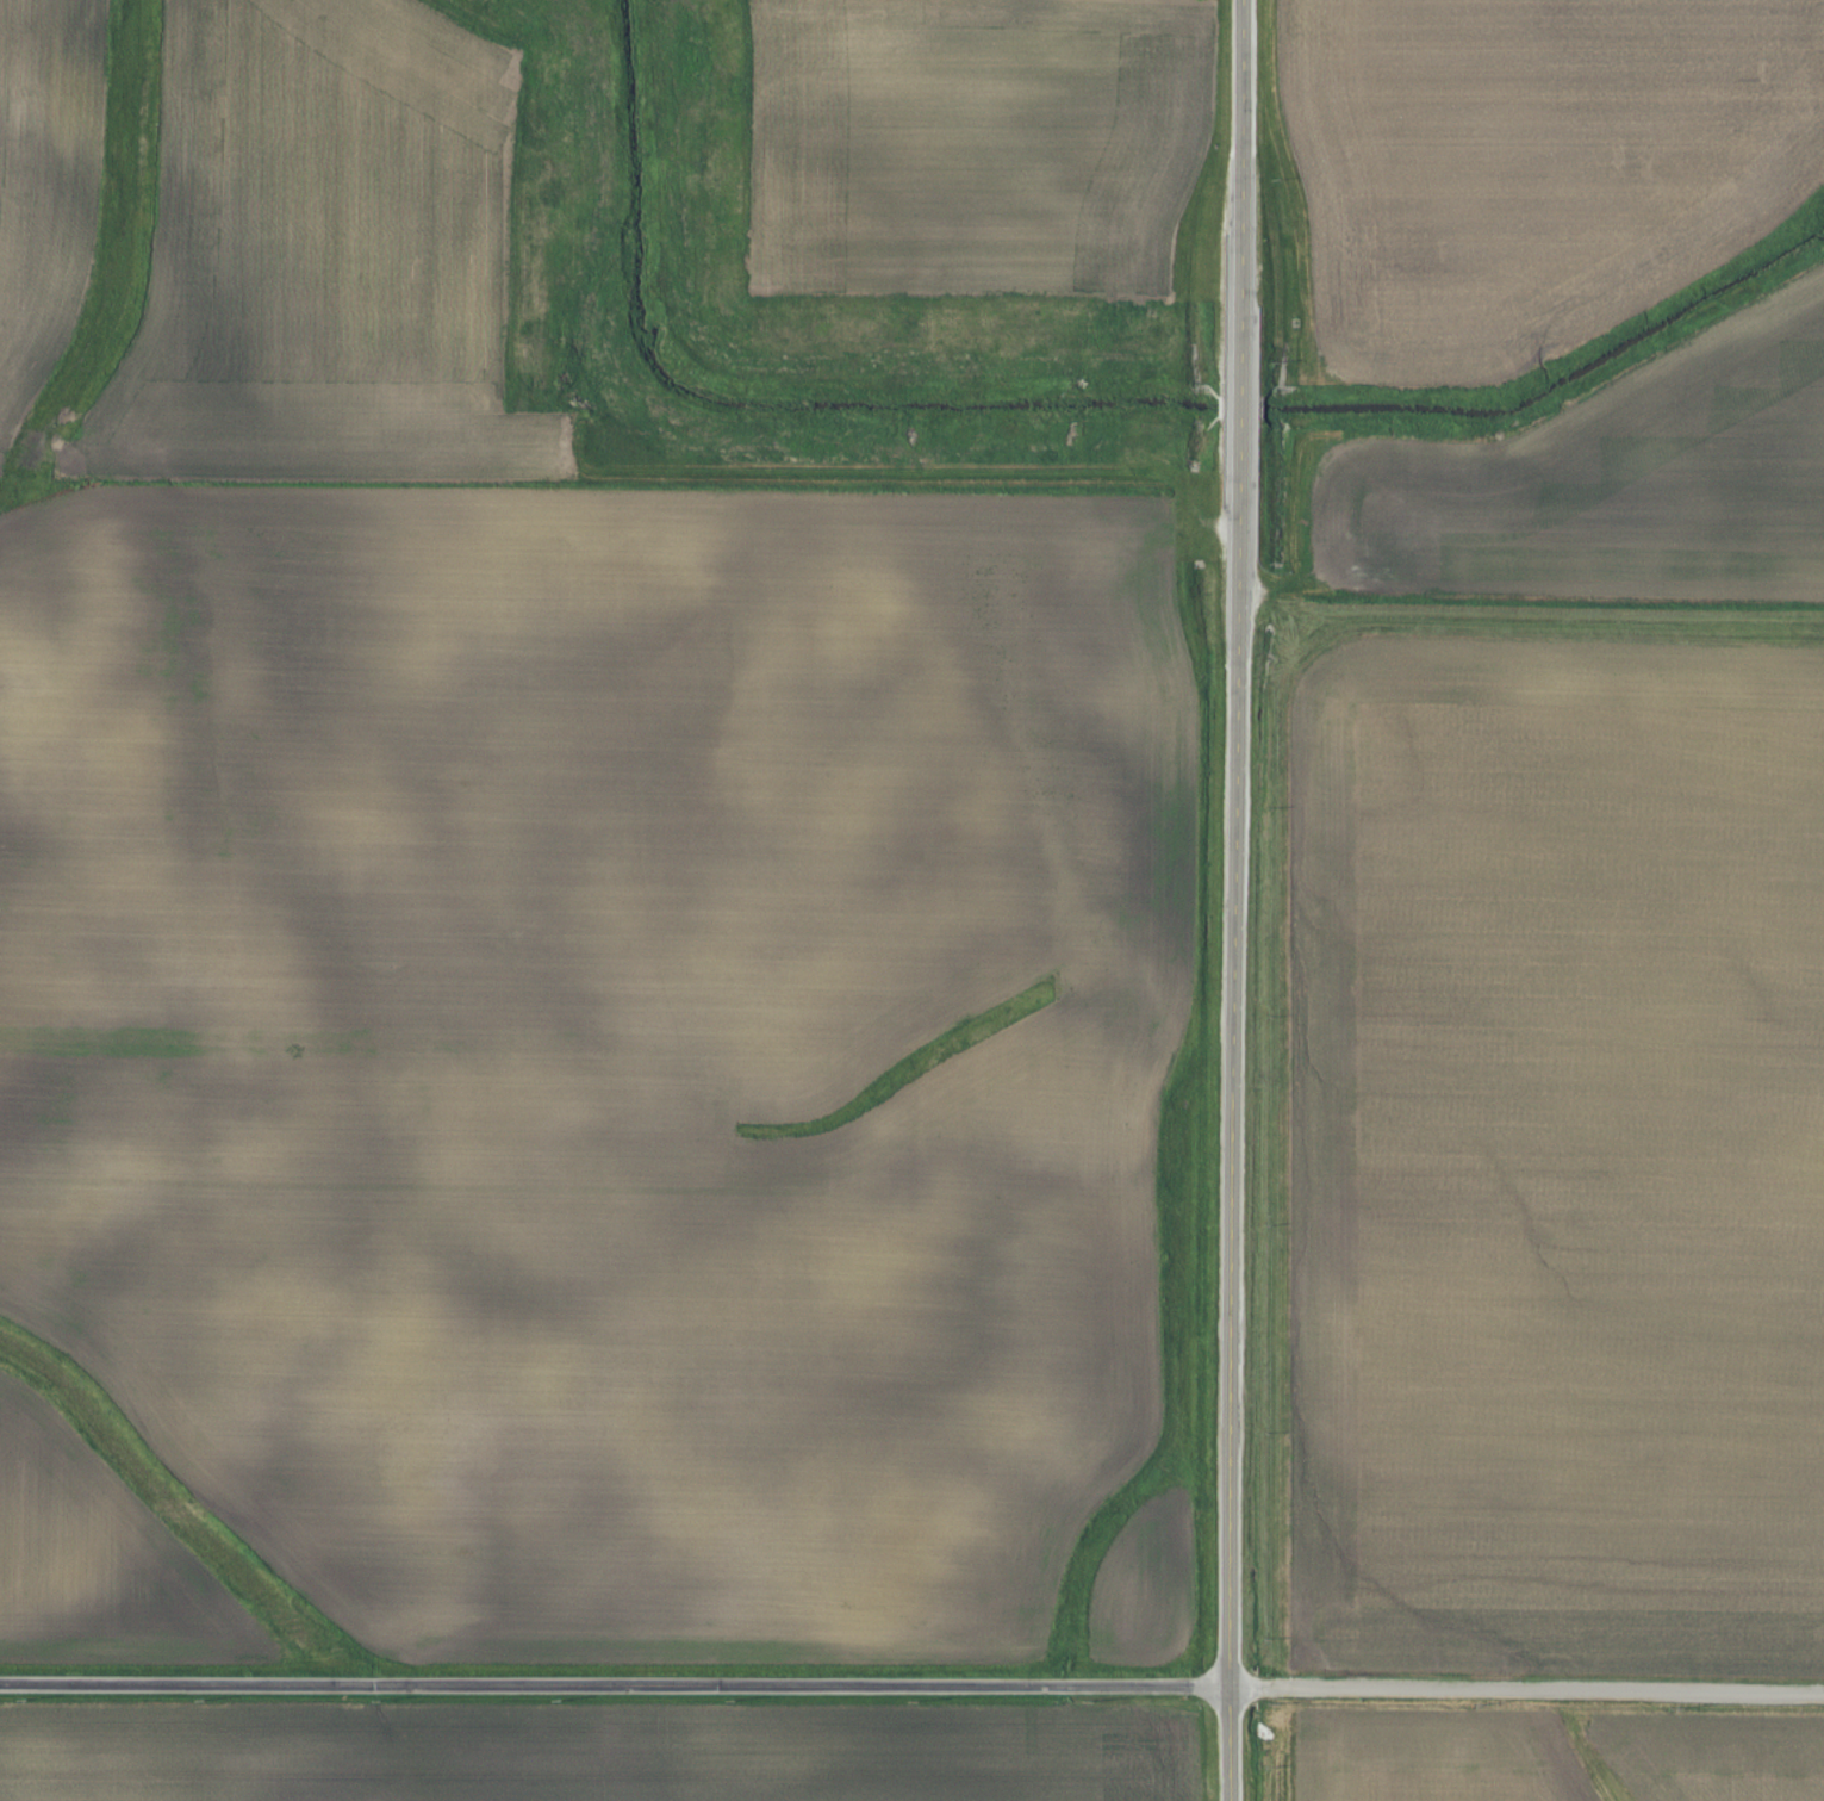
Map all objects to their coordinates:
road: (1234, 900)
road: (614, 1683)
road: (1525, 1690)

